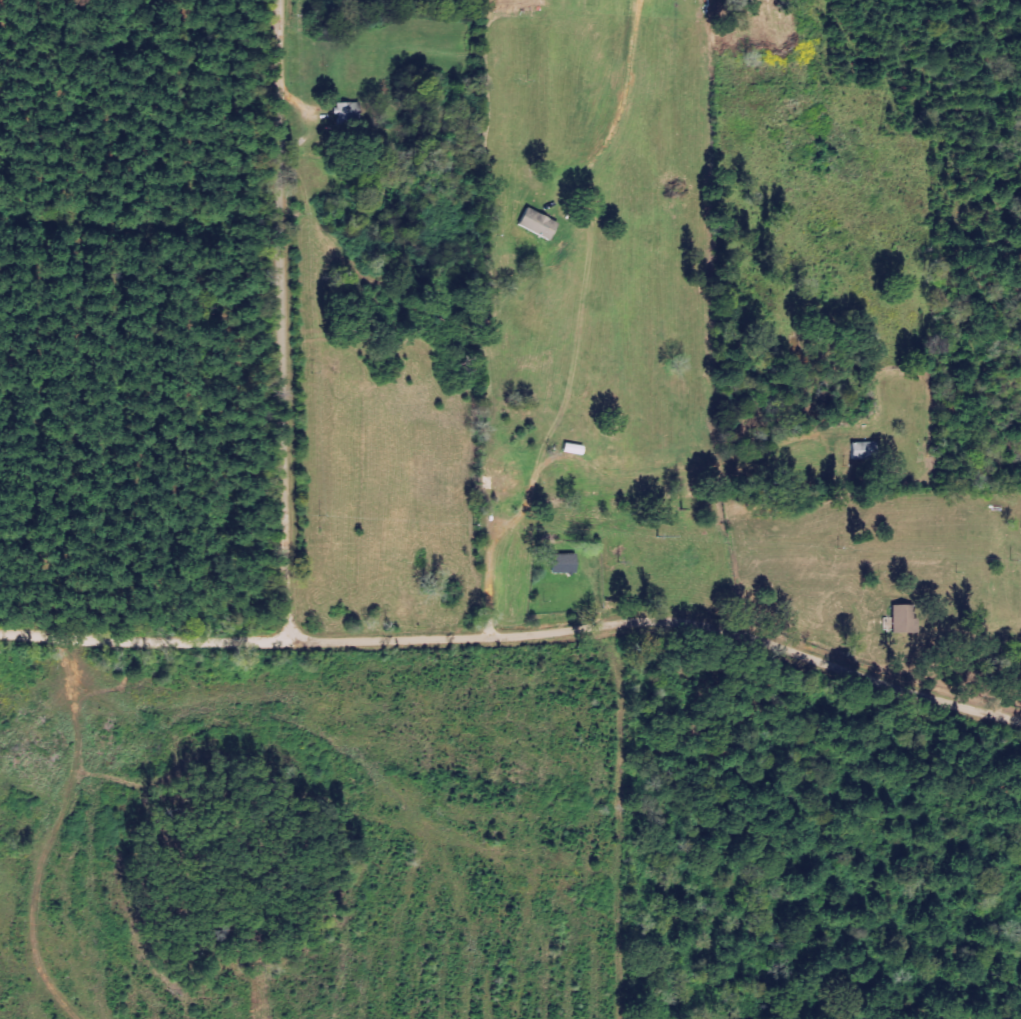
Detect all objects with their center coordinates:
building: (534, 224)
road: (285, 325)
building: (861, 451)
building: (561, 564)
road: (926, 587)
building: (901, 619)
road: (518, 645)

